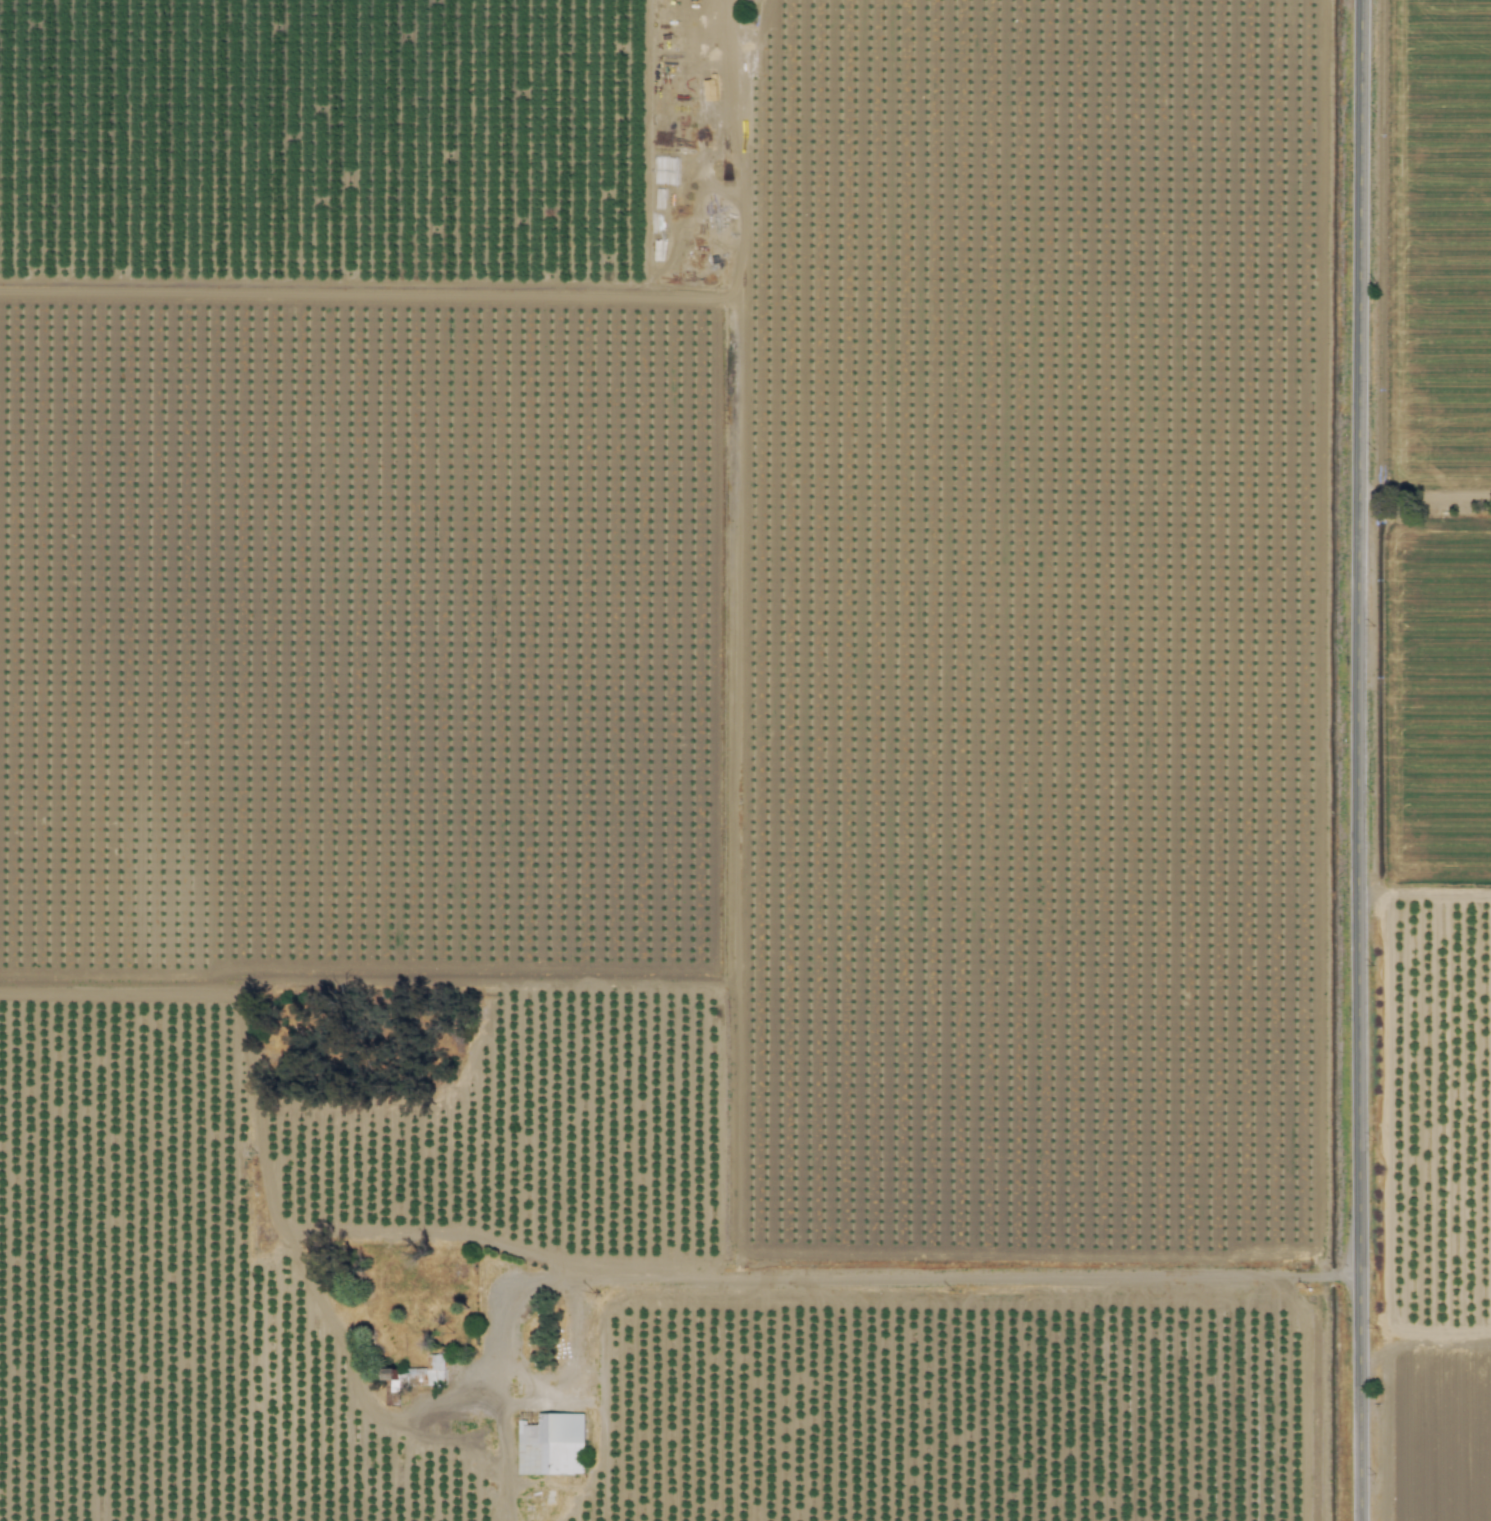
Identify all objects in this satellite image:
road: (513, 297)
road: (1357, 760)
road: (834, 1297)
building: (551, 1443)

